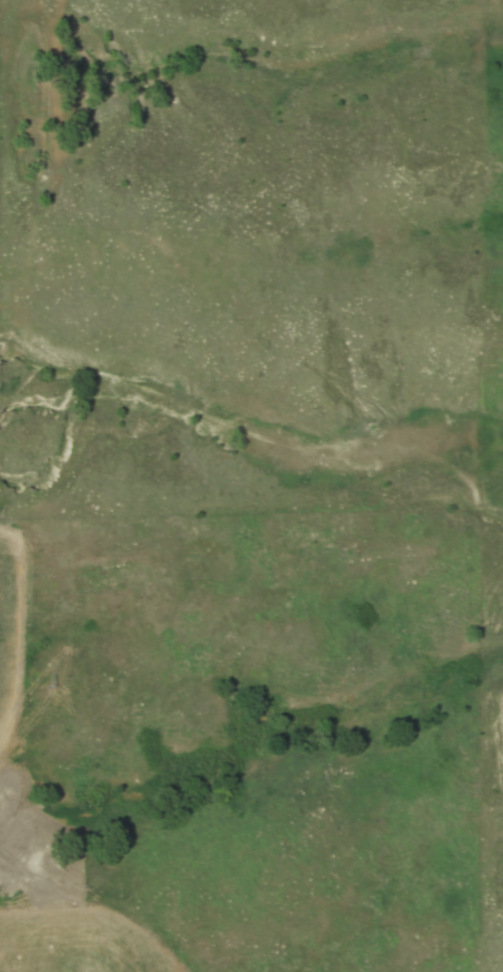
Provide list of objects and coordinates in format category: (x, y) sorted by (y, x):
crop: (7, 638)
crop: (75, 945)

